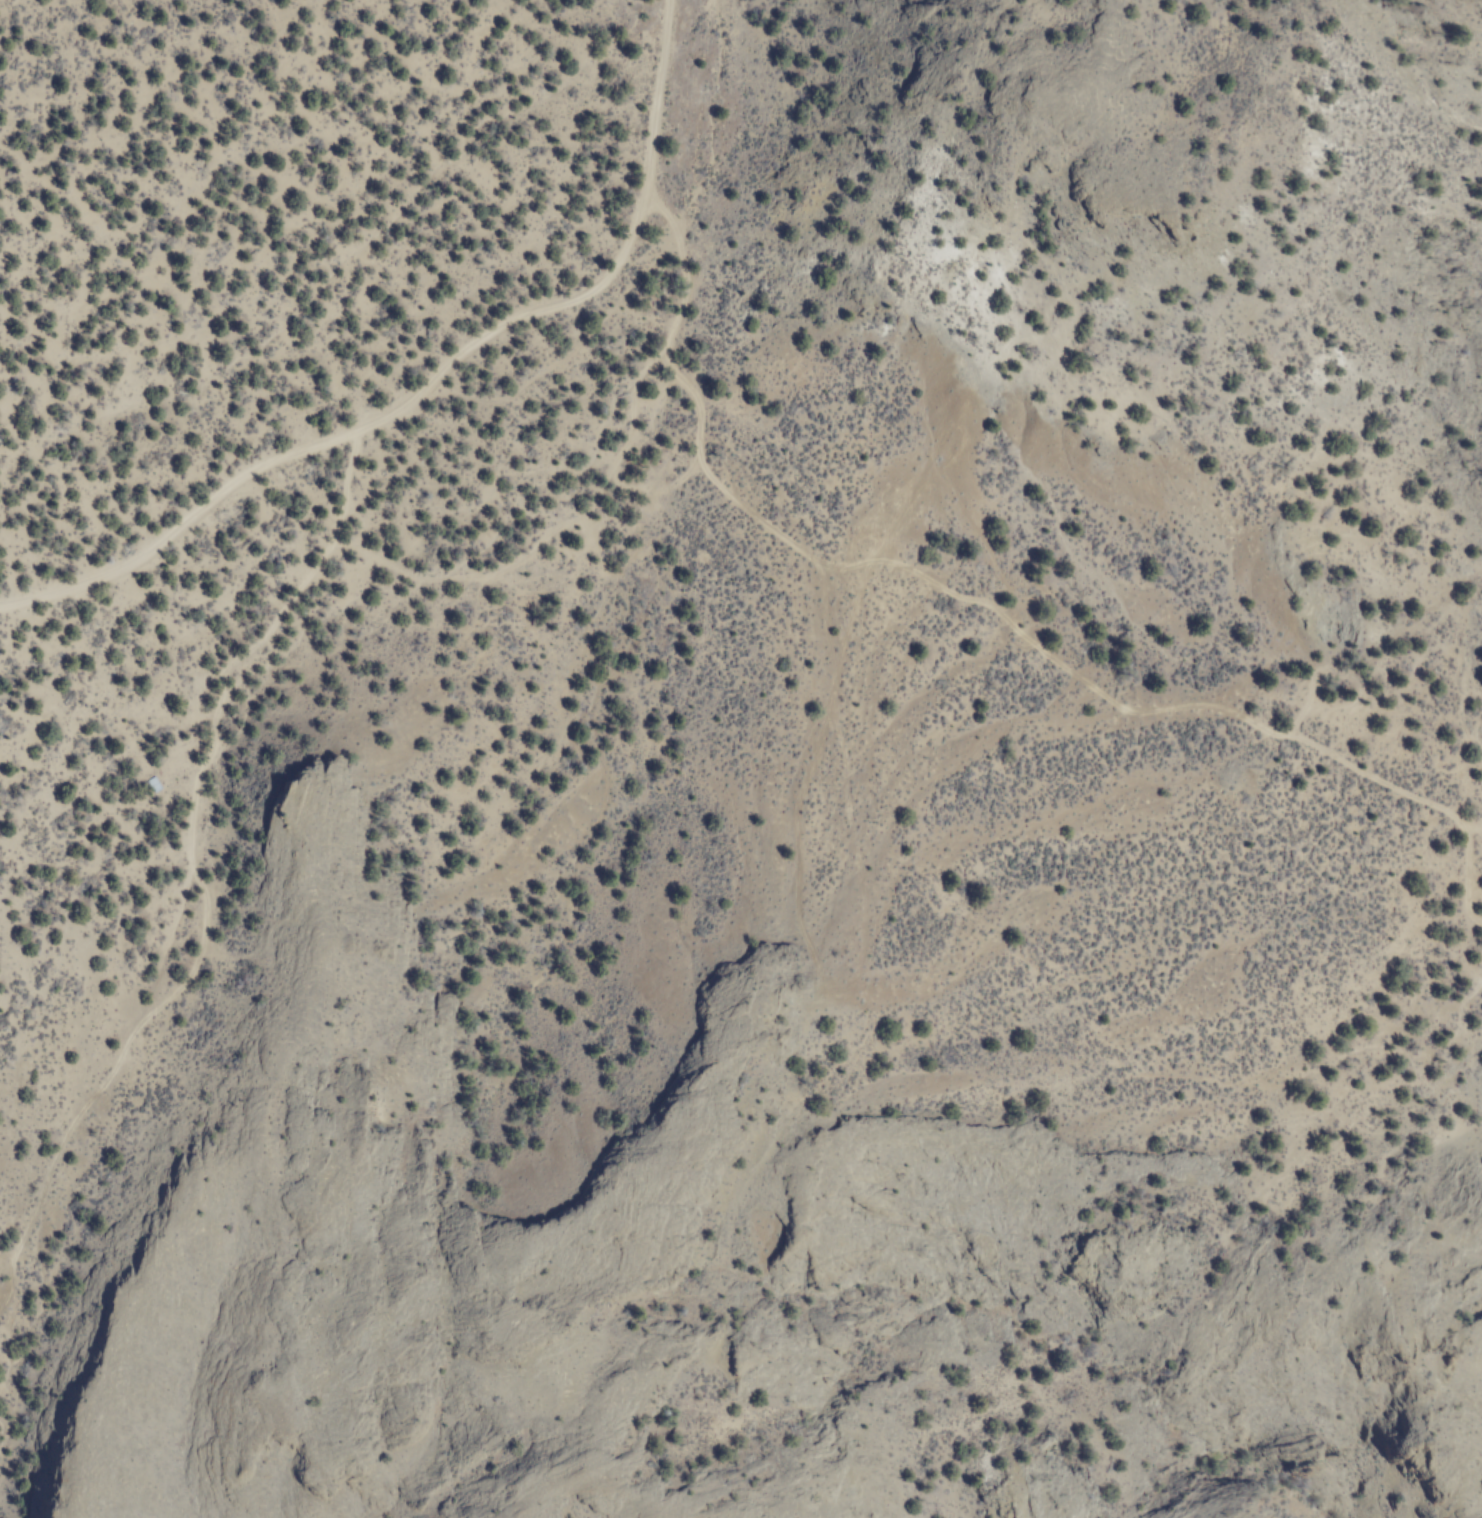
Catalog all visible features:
road: (440, 387)

